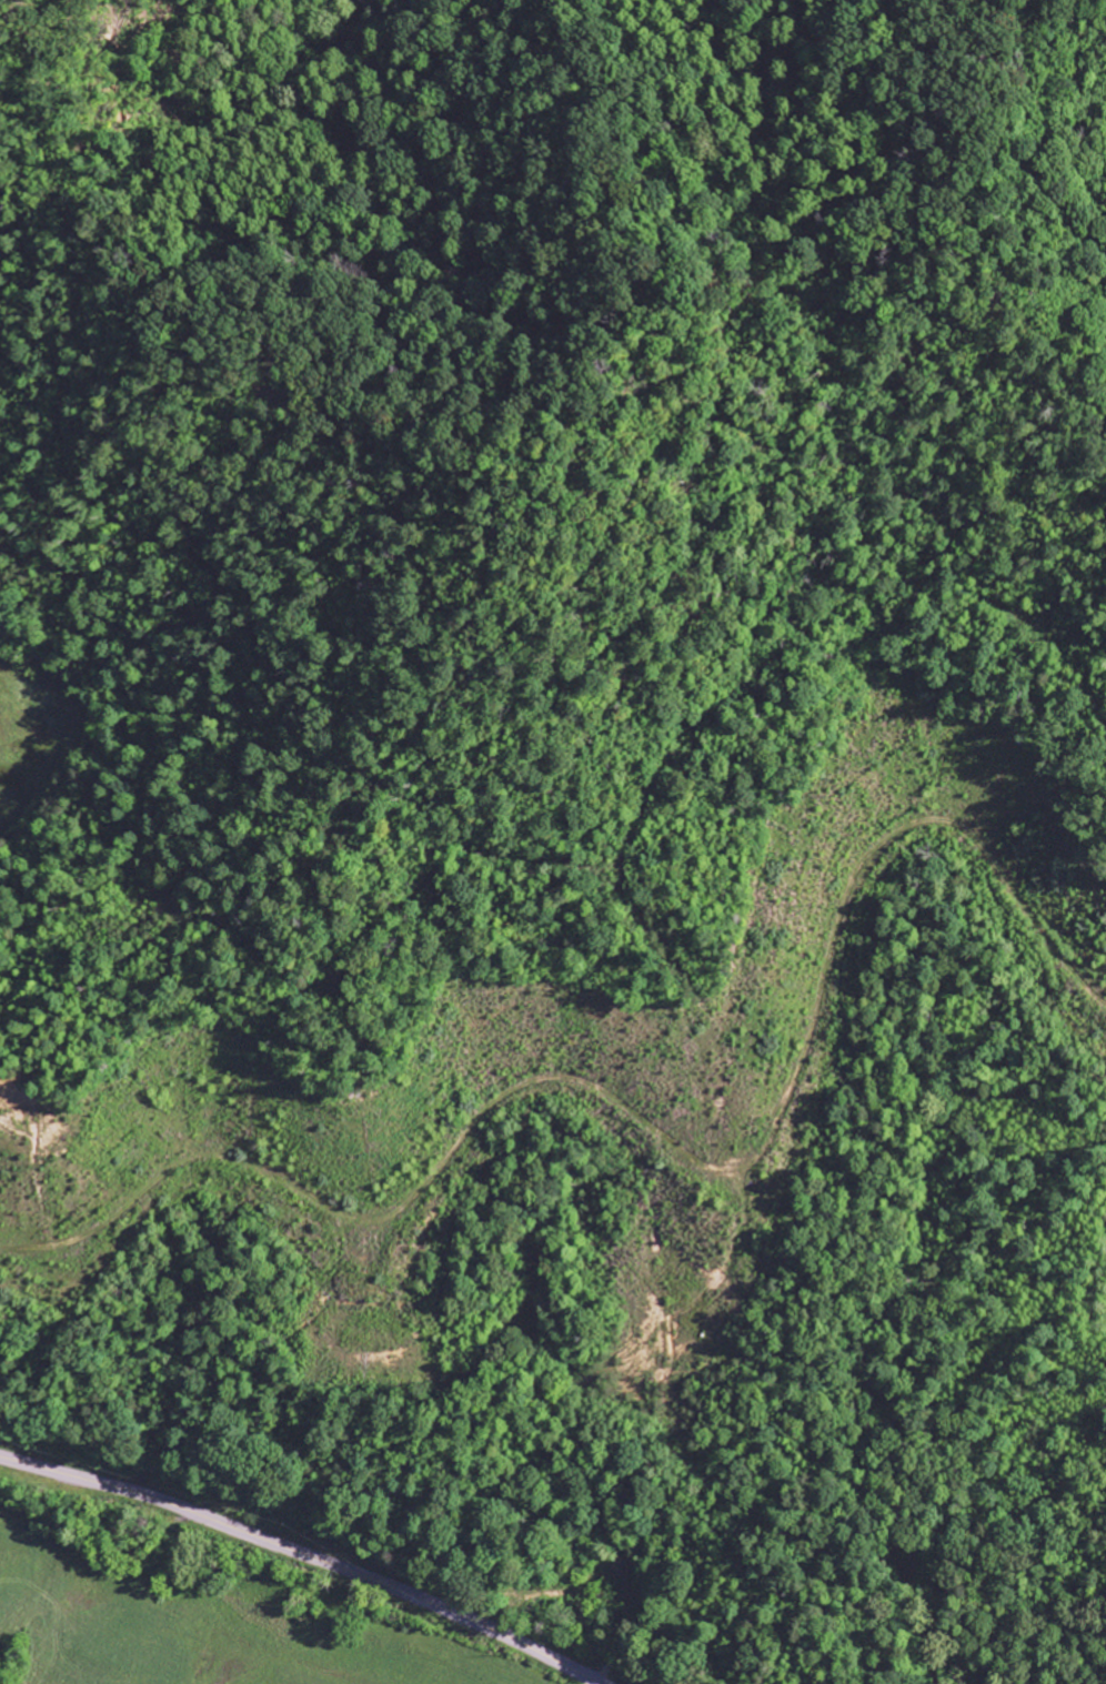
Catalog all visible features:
road: (304, 1554)

